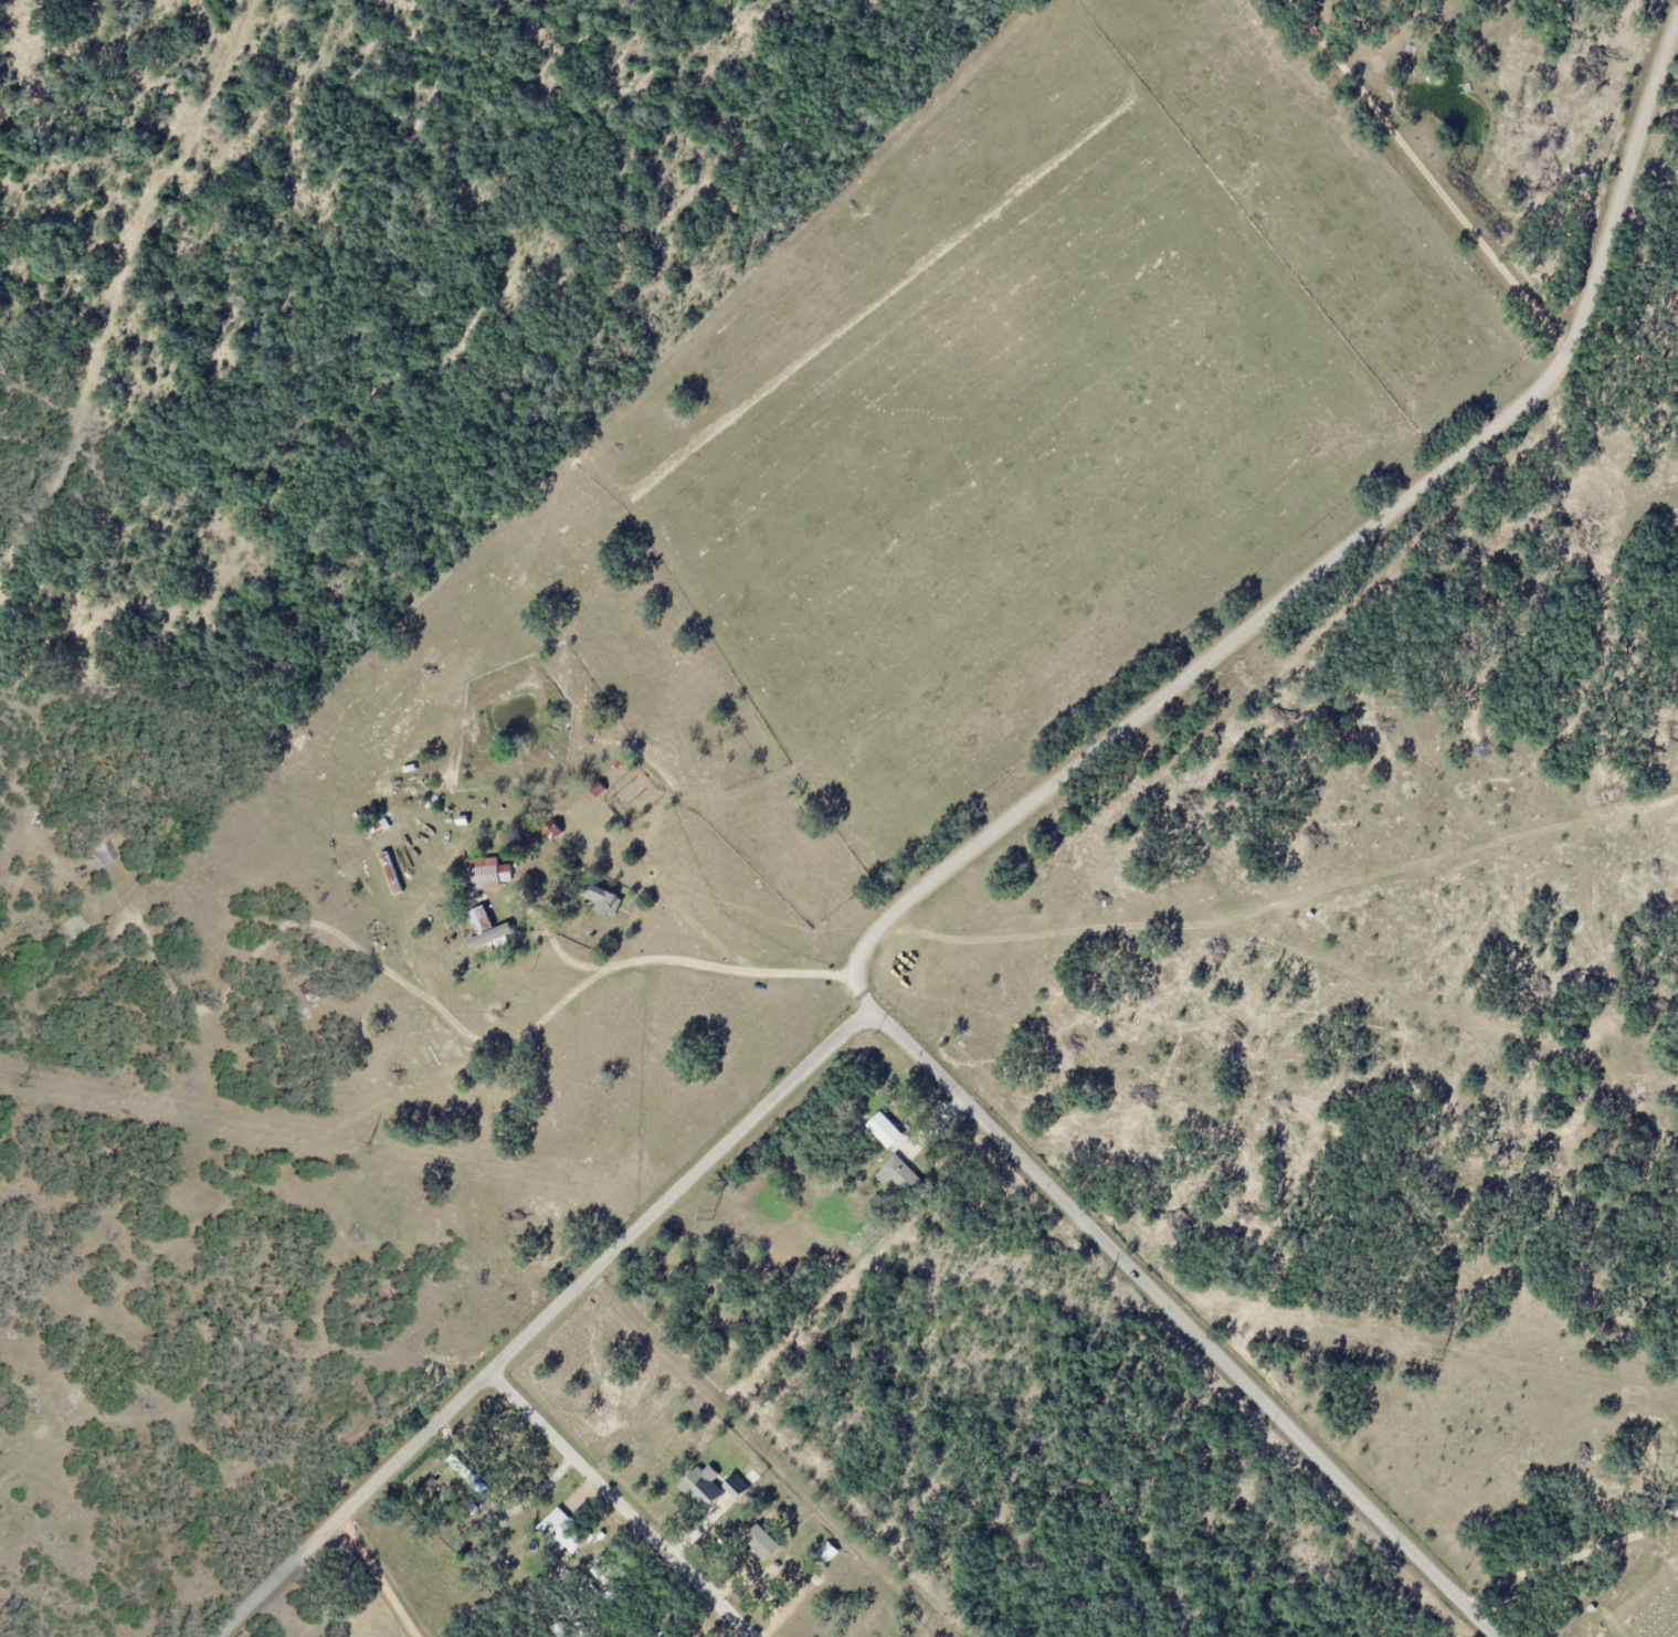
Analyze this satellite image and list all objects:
building: (583, 796)
building: (461, 814)
building: (553, 830)
road: (981, 839)
building: (94, 842)
building: (486, 873)
building: (603, 899)
building: (478, 917)
road: (448, 1018)
power tower: (20, 1079)
building: (885, 1129)
power tower: (365, 1147)
building: (894, 1171)
power tower: (714, 1213)
power tower: (1098, 1287)
road: (541, 1319)
power tower: (1439, 1354)
building: (735, 1486)
building: (701, 1487)
road: (621, 1503)
building: (562, 1529)
building: (827, 1552)
building: (785, 1575)
road: (377, 1578)
park: (1636, 1597)
building: (560, 1630)

